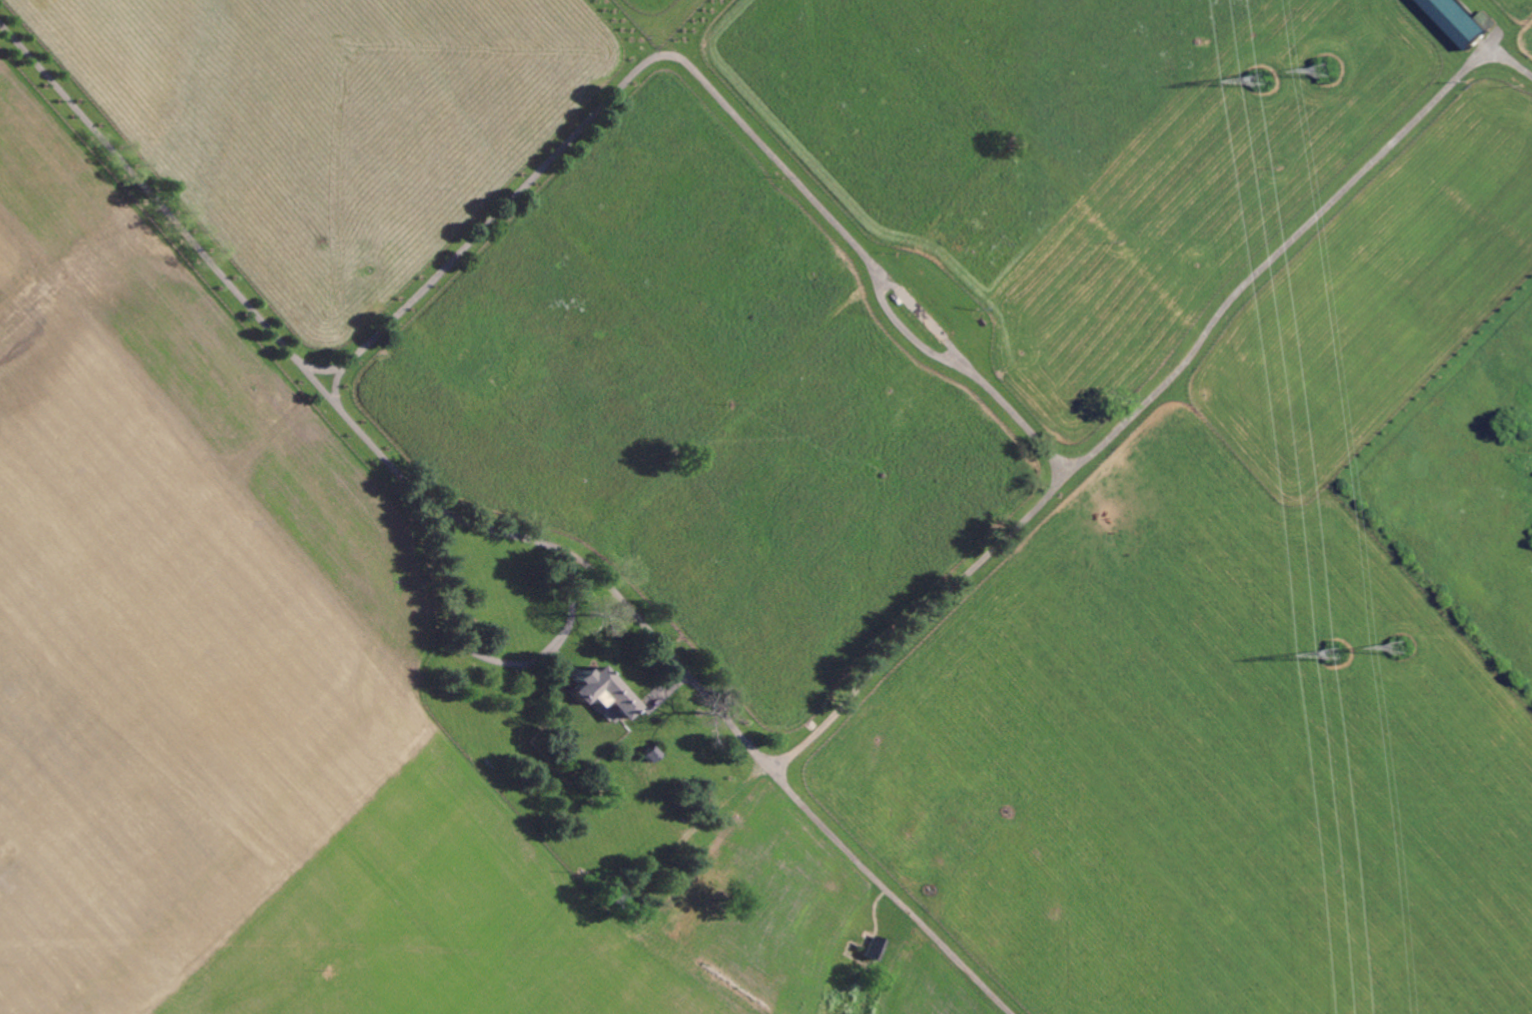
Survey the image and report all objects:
building: (1466, 20)
power tower: (1330, 73)
power tower: (1265, 83)
road: (849, 236)
road: (1290, 241)
road: (209, 258)
road: (339, 384)
road: (556, 647)
power tower: (1409, 647)
power tower: (1338, 655)
building: (608, 693)
road: (786, 785)

